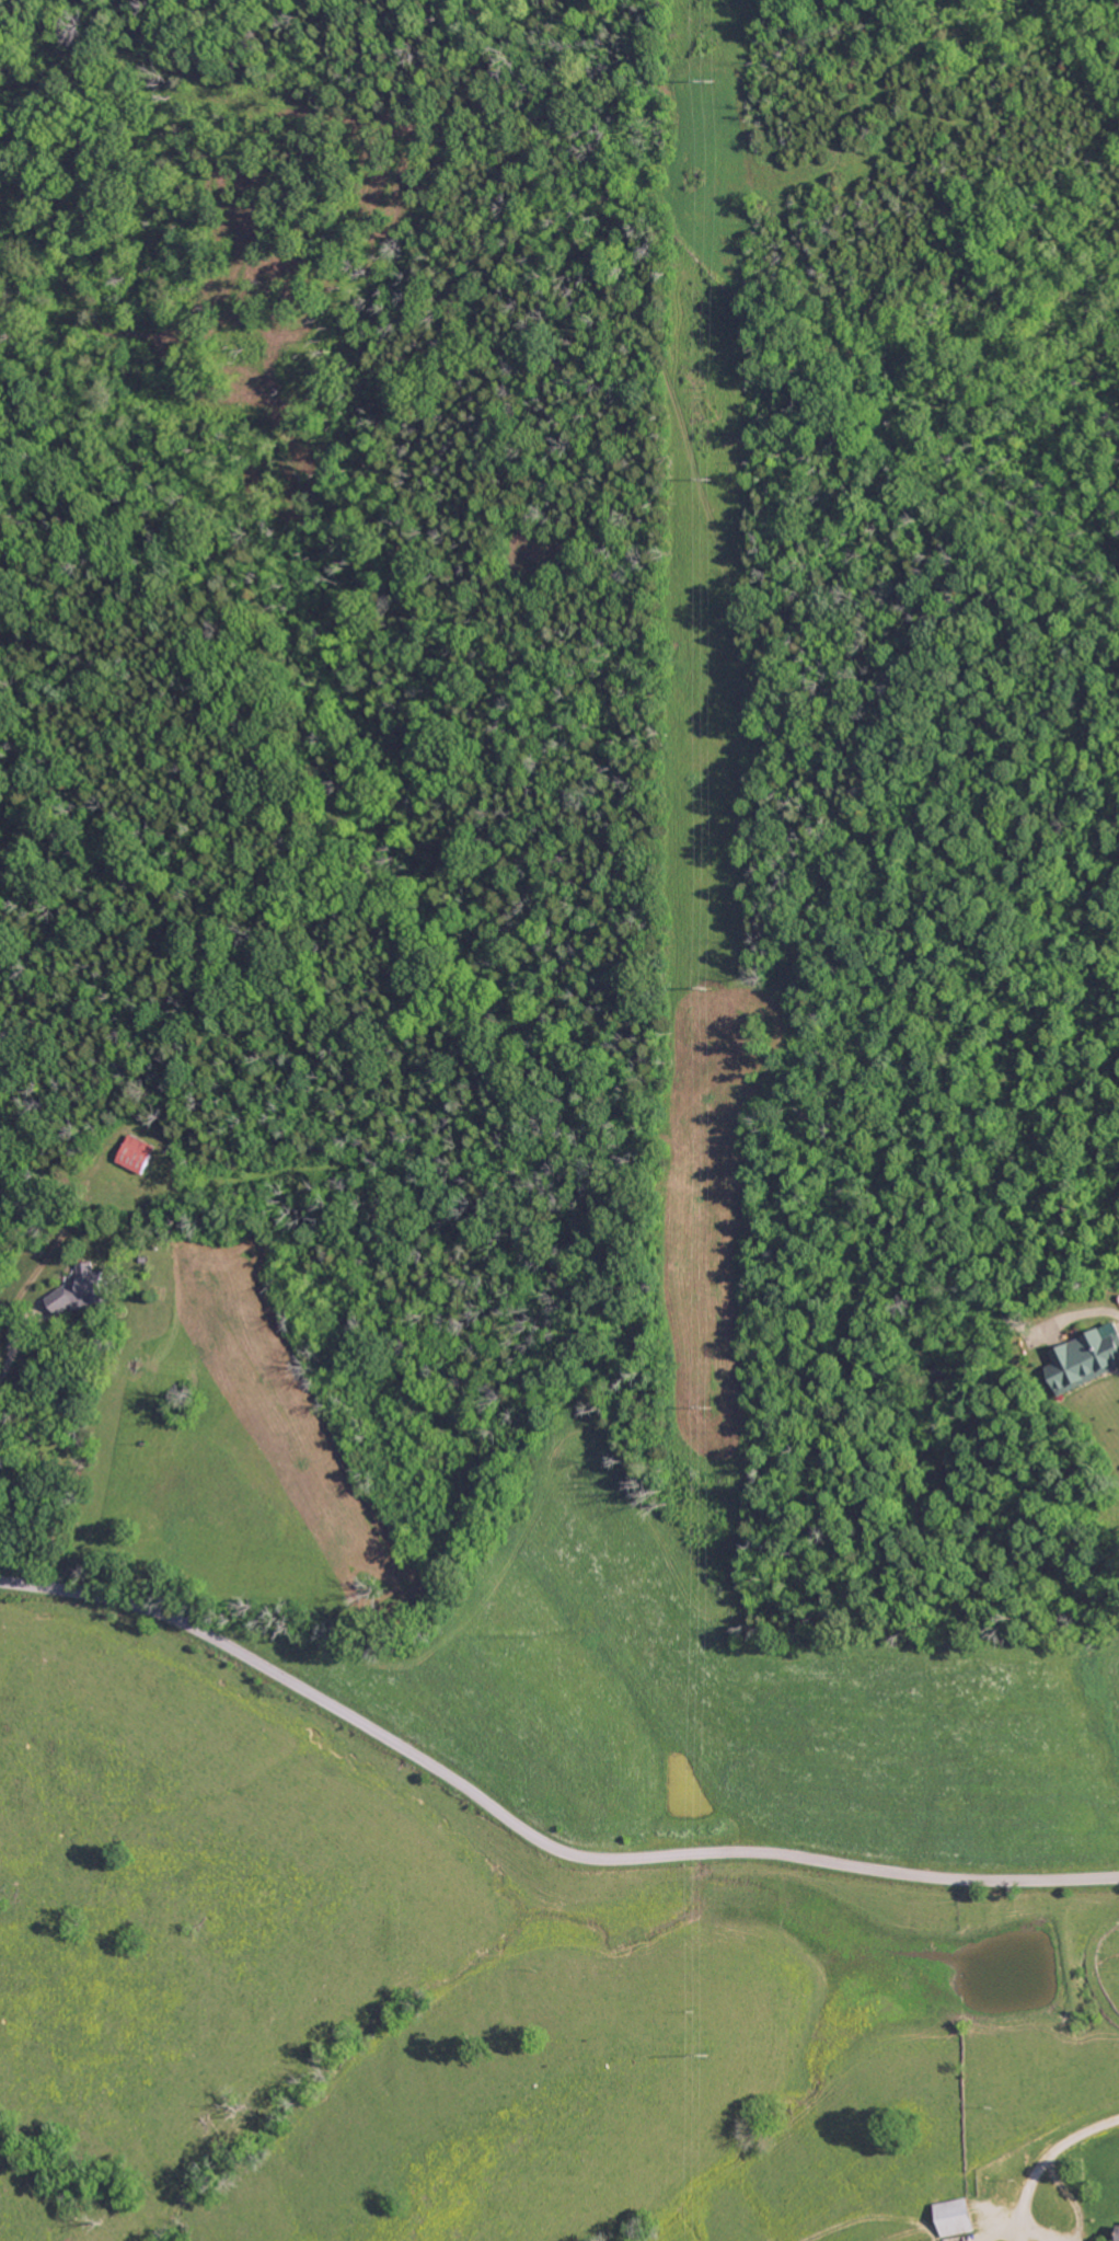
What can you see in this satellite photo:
building: (132, 1154)
building: (77, 1290)
building: (1080, 1357)
road: (530, 1834)
road: (1118, 2216)
building: (949, 2217)
building: (1116, 2232)

